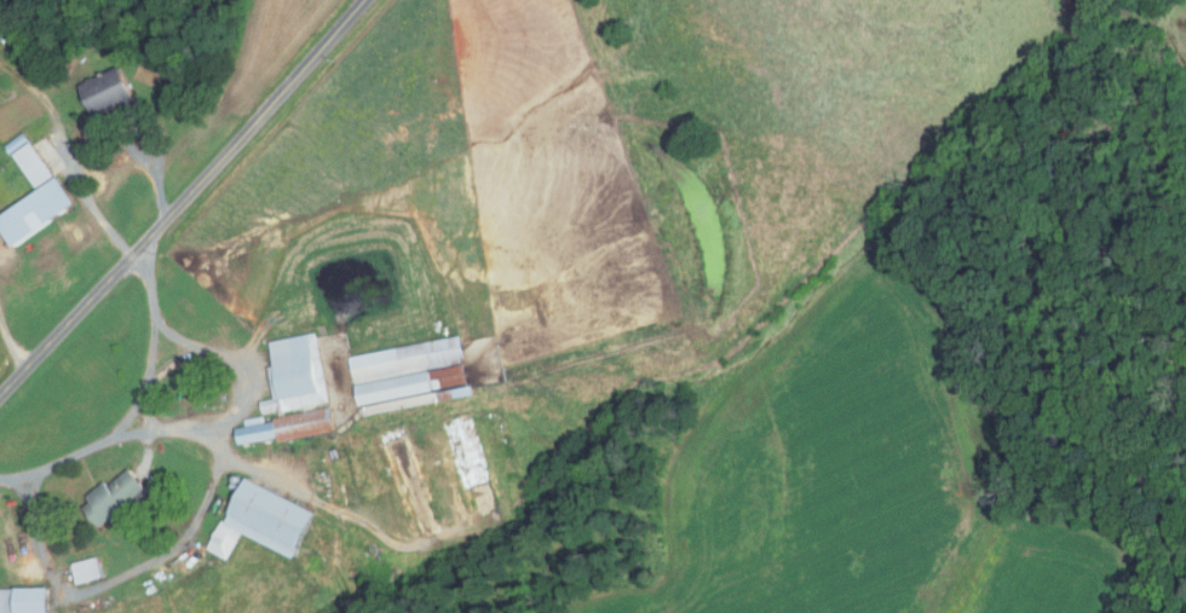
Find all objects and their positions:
building: (100, 92)
road: (125, 135)
road: (68, 155)
building: (30, 193)
road: (184, 201)
road: (142, 268)
building: (294, 374)
building: (407, 376)
road: (138, 398)
road: (237, 398)
road: (148, 414)
building: (281, 428)
road: (220, 441)
building: (110, 498)
building: (258, 521)
road: (169, 553)
building: (85, 571)
building: (22, 600)

